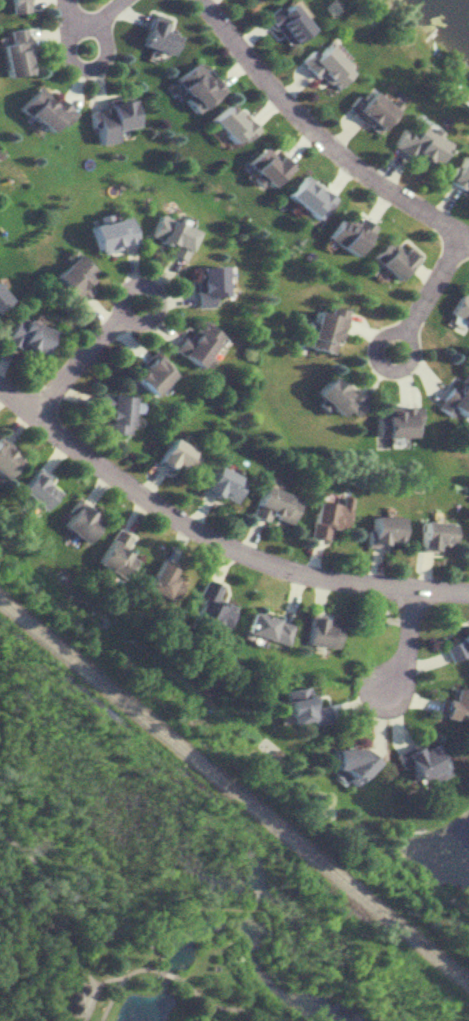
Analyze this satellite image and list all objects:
building: (248, 1)
building: (15, 6)
building: (284, 22)
road: (80, 23)
building: (155, 36)
building: (14, 53)
road: (84, 65)
building: (322, 66)
building: (194, 85)
building: (44, 109)
building: (367, 111)
building: (110, 120)
building: (229, 124)
road: (319, 137)
building: (416, 145)
building: (266, 165)
building: (459, 173)
building: (308, 197)
building: (347, 233)
building: (111, 234)
building: (171, 236)
building: (392, 259)
building: (74, 277)
road: (428, 282)
building: (208, 286)
building: (2, 299)
road: (114, 307)
building: (460, 308)
building: (323, 329)
building: (27, 336)
building: (197, 343)
road: (372, 356)
road: (73, 363)
building: (151, 376)
building: (337, 397)
building: (456, 397)
building: (115, 413)
building: (394, 423)
building: (177, 456)
building: (7, 458)
building: (222, 485)
building: (39, 489)
building: (273, 505)
building: (327, 517)
building: (79, 523)
building: (382, 531)
building: (434, 535)
road: (213, 539)
building: (116, 555)
building: (163, 583)
building: (211, 609)
building: (267, 629)
building: (320, 633)
road: (405, 642)
building: (457, 647)
building: (456, 705)
building: (302, 708)
road: (6, 718)
building: (352, 761)
building: (423, 761)
railway: (234, 793)
park: (163, 885)
road: (255, 898)
road: (52, 903)
road: (270, 925)
road: (167, 973)
road: (120, 981)
road: (95, 988)
road: (219, 1006)

